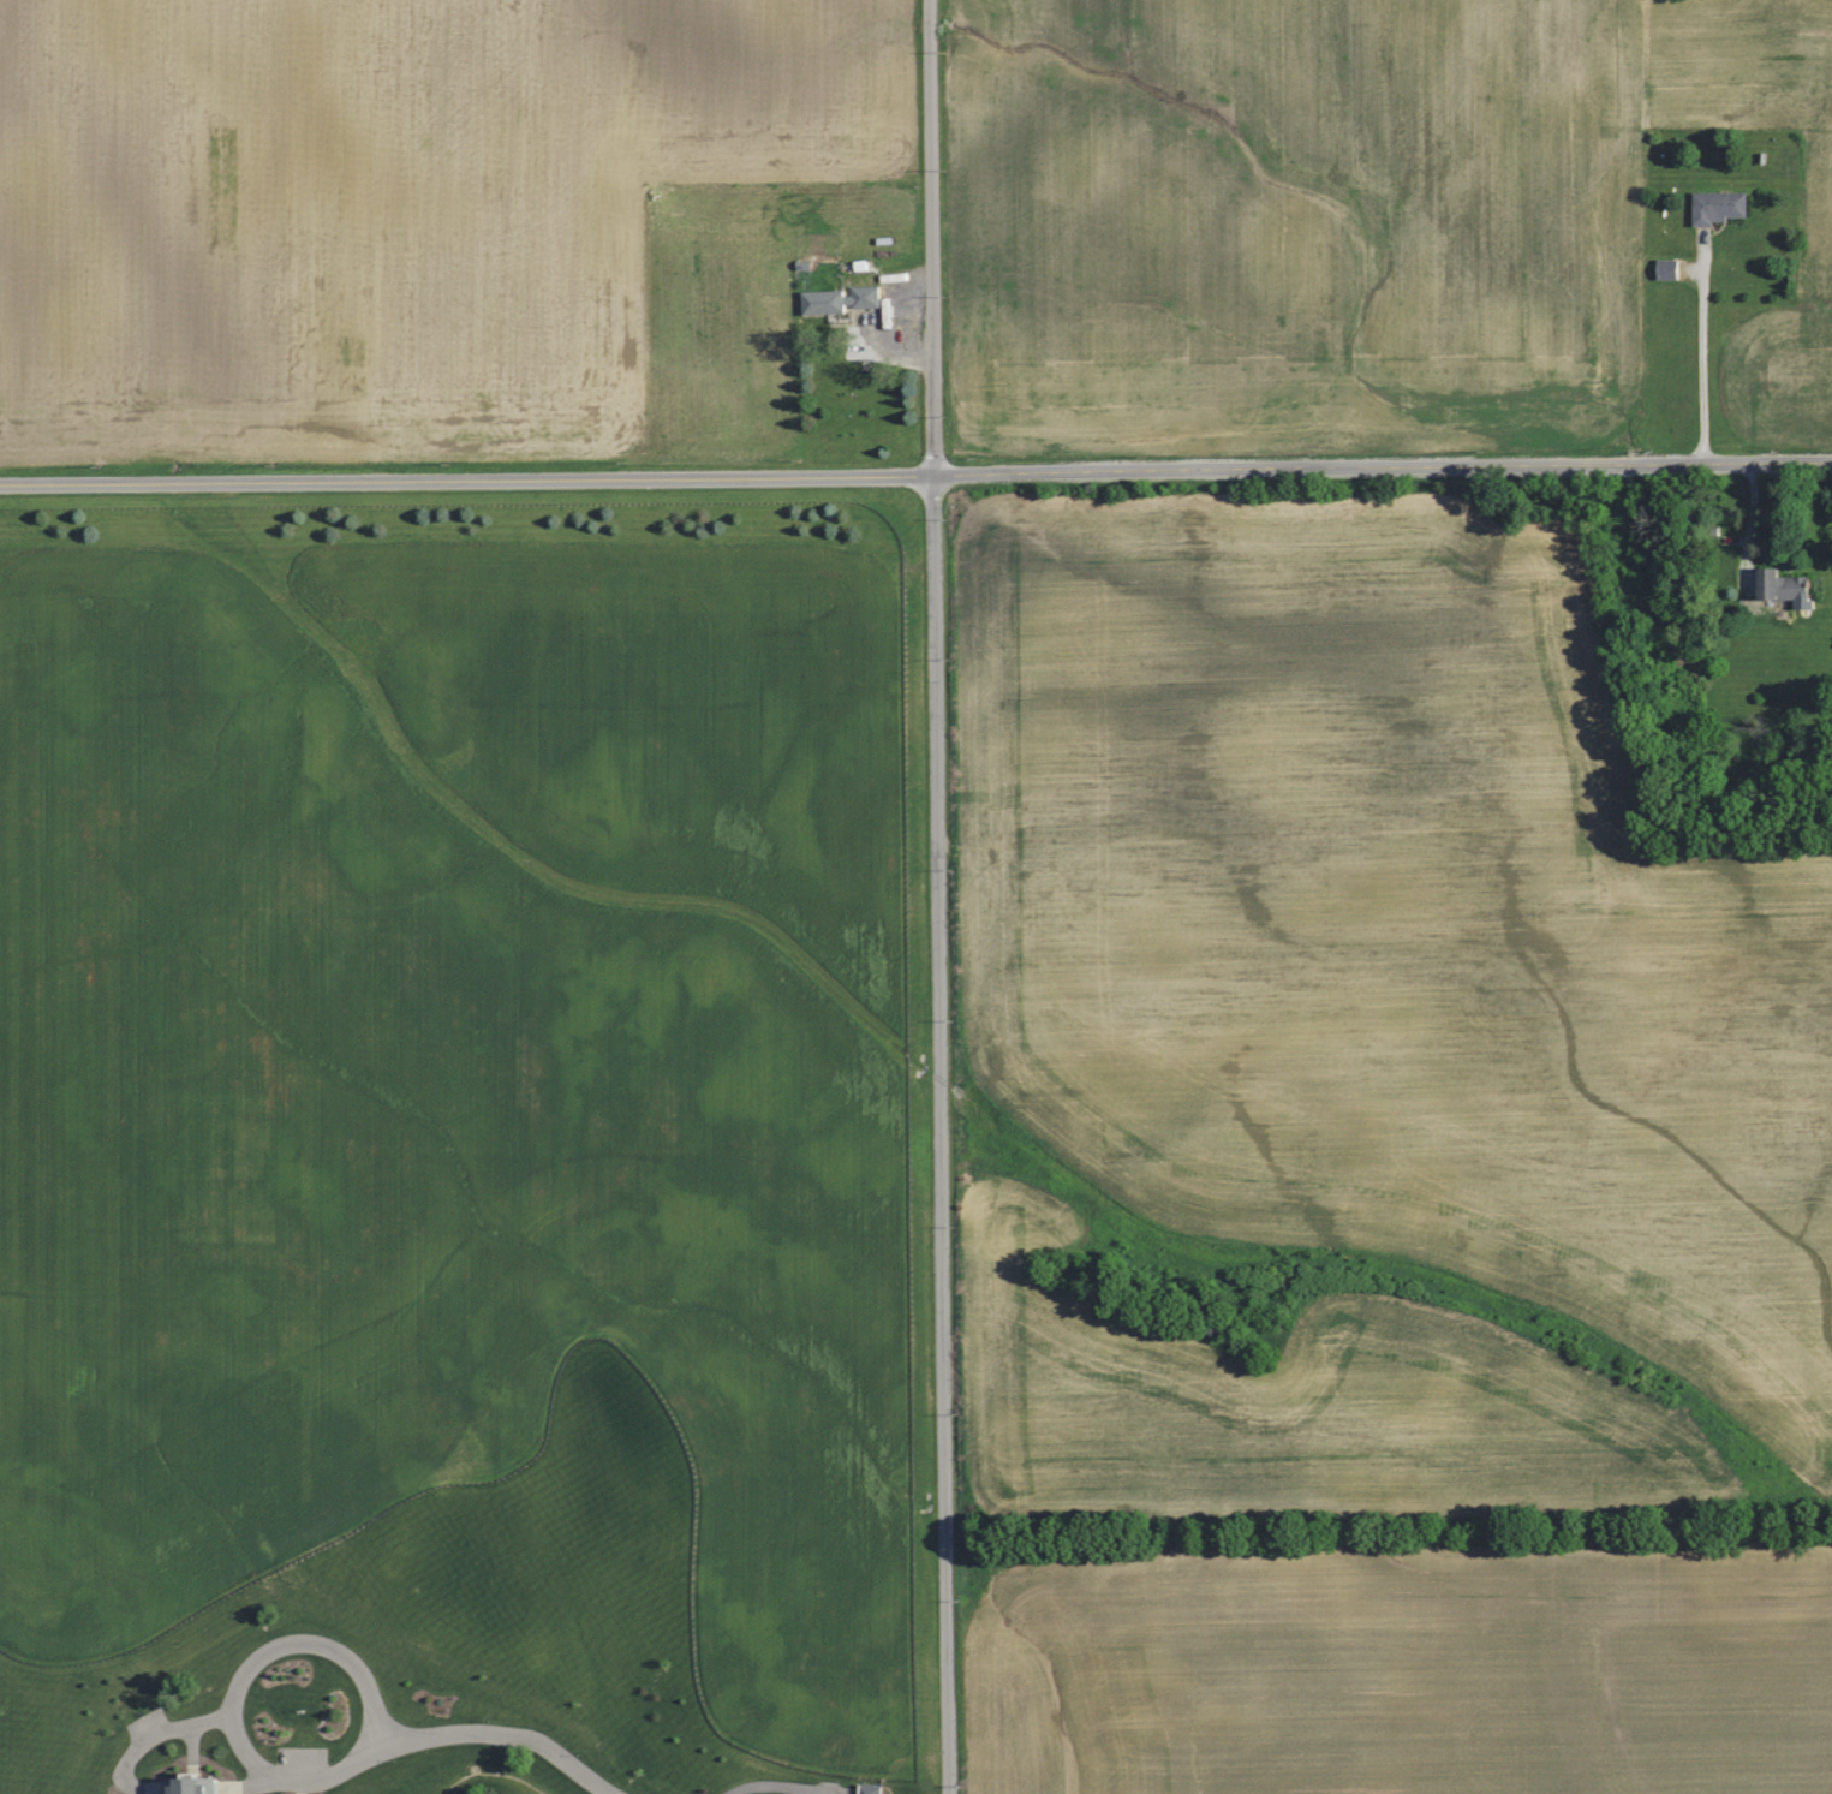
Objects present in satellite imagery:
building: (1715, 205)
building: (1665, 268)
building: (837, 298)
road: (1703, 356)
road: (915, 471)
building: (1779, 586)
road: (941, 896)
road: (157, 1729)
road: (496, 1730)
road: (190, 1739)
road: (353, 1751)
building: (199, 1786)
building: (866, 1788)

